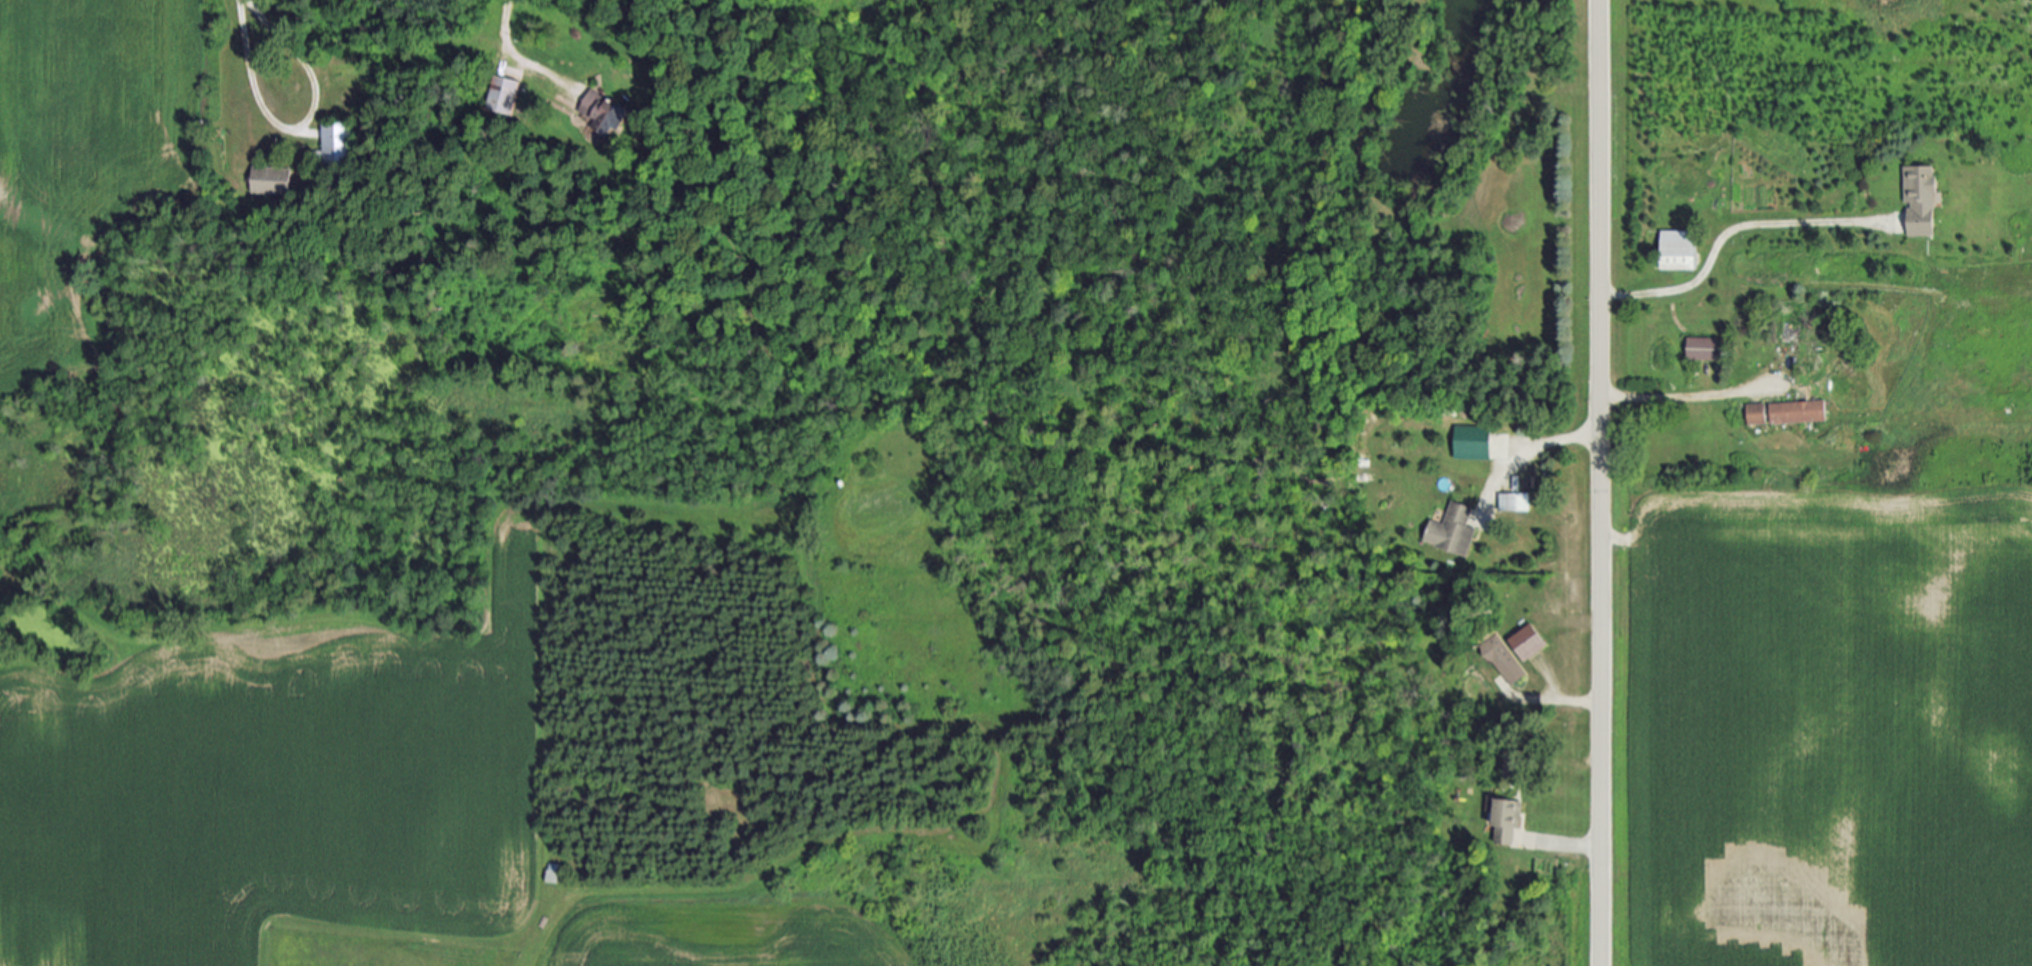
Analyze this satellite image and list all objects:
road: (508, 37)
building: (506, 95)
building: (604, 116)
road: (299, 128)
building: (337, 144)
building: (274, 180)
building: (1924, 200)
road: (1726, 238)
building: (1681, 250)
building: (1708, 349)
road: (1684, 394)
building: (1801, 412)
building: (1759, 414)
building: (1476, 443)
road: (1533, 449)
road: (1599, 483)
building: (1515, 502)
building: (1454, 531)
building: (1530, 643)
building: (1504, 660)
road: (1569, 701)
building: (1515, 766)
building: (1509, 822)
road: (1571, 847)

